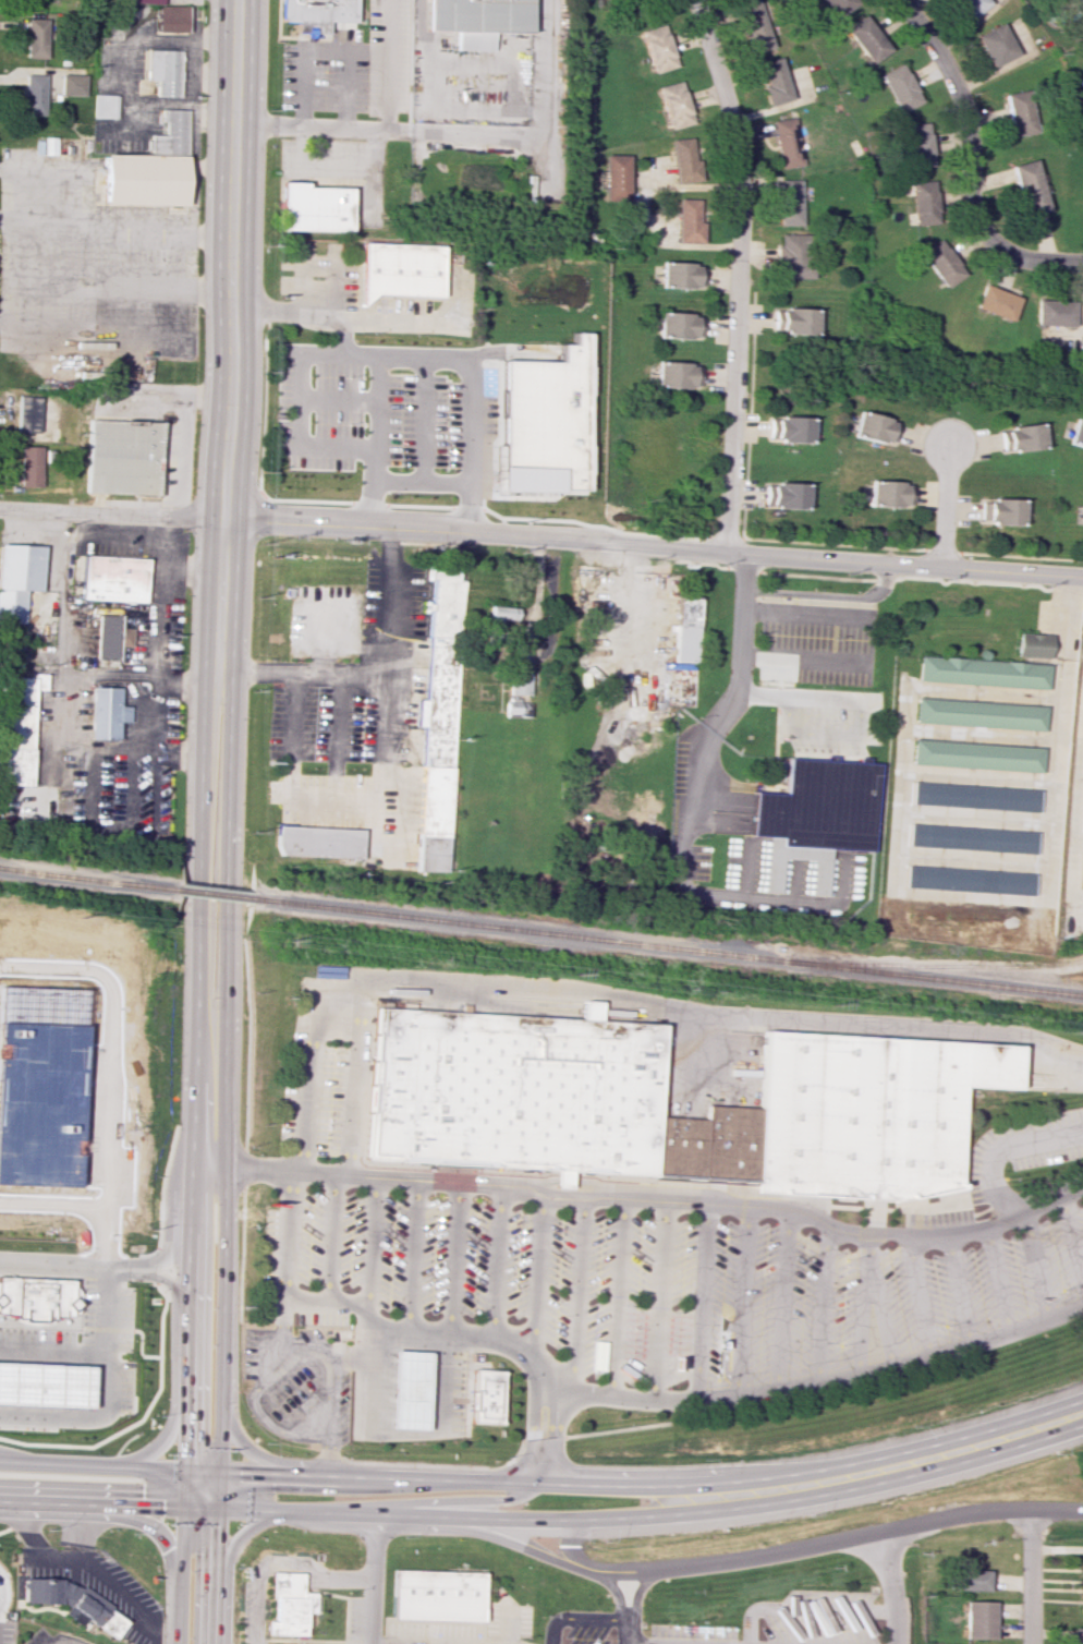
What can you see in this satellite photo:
building: (134, 1)
building: (34, 4)
building: (836, 7)
building: (969, 7)
building: (1074, 8)
building: (317, 14)
building: (474, 15)
building: (169, 19)
building: (754, 25)
building: (35, 37)
building: (865, 38)
building: (995, 45)
building: (656, 48)
road: (308, 50)
parking lot: (387, 56)
road: (387, 63)
building: (160, 71)
building: (774, 82)
building: (71, 84)
building: (899, 87)
road: (349, 89)
building: (32, 94)
building: (673, 105)
building: (102, 106)
building: (1019, 112)
road: (309, 126)
road: (461, 131)
building: (168, 133)
road: (966, 135)
building: (786, 143)
building: (916, 145)
building: (683, 159)
building: (614, 177)
building: (142, 181)
building: (1027, 188)
building: (789, 202)
building: (922, 203)
building: (312, 207)
road: (39, 218)
building: (686, 221)
road: (84, 234)
road: (11, 254)
building: (792, 257)
road: (1056, 259)
road: (317, 262)
building: (940, 263)
building: (400, 269)
road: (737, 273)
parking lot: (319, 274)
building: (680, 275)
building: (995, 302)
parking lot: (410, 306)
road: (10, 312)
building: (1052, 312)
road: (4, 318)
building: (791, 321)
road: (400, 323)
building: (678, 325)
road: (231, 334)
road: (370, 351)
building: (122, 372)
building: (674, 375)
road: (470, 394)
building: (26, 413)
building: (427, 413)
parking lot: (324, 418)
building: (543, 422)
building: (872, 427)
building: (786, 428)
building: (1074, 433)
building: (1018, 437)
building: (120, 456)
building: (29, 466)
road: (297, 482)
building: (886, 494)
building: (782, 495)
road: (941, 505)
building: (998, 511)
building: (1081, 516)
road: (541, 537)
building: (115, 578)
building: (17, 582)
parking lot: (370, 593)
road: (829, 594)
building: (441, 603)
building: (498, 616)
building: (686, 629)
building: (112, 636)
parking lot: (812, 643)
building: (1034, 644)
road: (741, 645)
building: (984, 672)
road: (378, 675)
building: (519, 684)
road: (763, 693)
building: (438, 702)
building: (516, 708)
building: (109, 713)
building: (981, 714)
parking lot: (830, 721)
parking lot: (325, 726)
building: (17, 727)
road: (856, 727)
road: (296, 738)
road: (338, 740)
building: (978, 755)
road: (389, 781)
parking lot: (337, 788)
building: (975, 796)
building: (823, 803)
road: (1074, 803)
building: (433, 818)
building: (1082, 819)
parking lot: (393, 837)
building: (973, 838)
building: (319, 842)
building: (1080, 872)
railway: (86, 875)
building: (970, 880)
road: (689, 885)
railway: (209, 893)
power tower: (80, 917)
railway: (665, 946)
power tower: (284, 948)
railway: (940, 965)
power tower: (571, 976)
road: (610, 1000)
power tower: (829, 1005)
road: (253, 1044)
building: (514, 1089)
building: (42, 1098)
parking lot: (319, 1099)
building: (867, 1113)
building: (731, 1141)
building: (679, 1146)
road: (1002, 1146)
parking lot: (1024, 1150)
road: (224, 1155)
road: (198, 1156)
road: (248, 1169)
road: (673, 1186)
road: (646, 1200)
road: (169, 1226)
road: (333, 1238)
road: (373, 1247)
street lamp: (38, 1248)
road: (1071, 1248)
street lamp: (94, 1250)
road: (413, 1253)
road: (454, 1256)
road: (244, 1258)
road: (497, 1259)
road: (59, 1265)
road: (537, 1266)
road: (1034, 1266)
road: (158, 1277)
parking lot: (649, 1281)
road: (995, 1281)
street lamp: (127, 1282)
street lamp: (149, 1283)
road: (957, 1293)
road: (576, 1296)
building: (36, 1298)
road: (918, 1298)
road: (616, 1300)
road: (742, 1301)
road: (659, 1302)
road: (701, 1302)
road: (782, 1302)
road: (871, 1303)
road: (823, 1304)
parking lot: (106, 1313)
road: (413, 1325)
road: (90, 1327)
parking lot: (37, 1333)
street lamp: (78, 1335)
street lamp: (135, 1339)
road: (160, 1345)
road: (282, 1349)
road: (356, 1351)
road: (97, 1354)
street lamp: (129, 1357)
road: (816, 1383)
building: (45, 1385)
gas station: (45, 1385)
parking lot: (125, 1387)
building: (407, 1389)
road: (331, 1390)
gas station: (410, 1390)
building: (476, 1393)
road: (256, 1401)
road: (171, 1405)
road: (82, 1414)
street lamp: (160, 1416)
street lamp: (60, 1428)
road: (611, 1429)
road: (315, 1430)
road: (405, 1431)
road: (546, 1438)
road: (250, 1448)
road: (972, 1449)
street lamp: (72, 1450)
road: (328, 1451)
road: (445, 1465)
traffic signals: (184, 1467)
traffic signals: (217, 1470)
road: (429, 1474)
road: (463, 1496)
traffic signals: (183, 1503)
traffic signals: (216, 1504)
road: (431, 1516)
road: (126, 1519)
road: (8, 1526)
road: (76, 1527)
street lamp: (47, 1530)
street lamp: (131, 1533)
road: (496, 1534)
road: (803, 1546)
fountain: (283, 1556)
road: (226, 1561)
road: (92, 1566)
road: (1026, 1576)
road: (373, 1580)
building: (965, 1580)
road: (888, 1586)
building: (1081, 1587)
road: (635, 1588)
road: (0, 1592)
building: (436, 1592)
building: (74, 1600)
road: (620, 1604)
building: (287, 1605)
road: (576, 1619)
building: (975, 1619)
road: (501, 1624)
parking lot: (5, 1632)
building: (1074, 1635)

